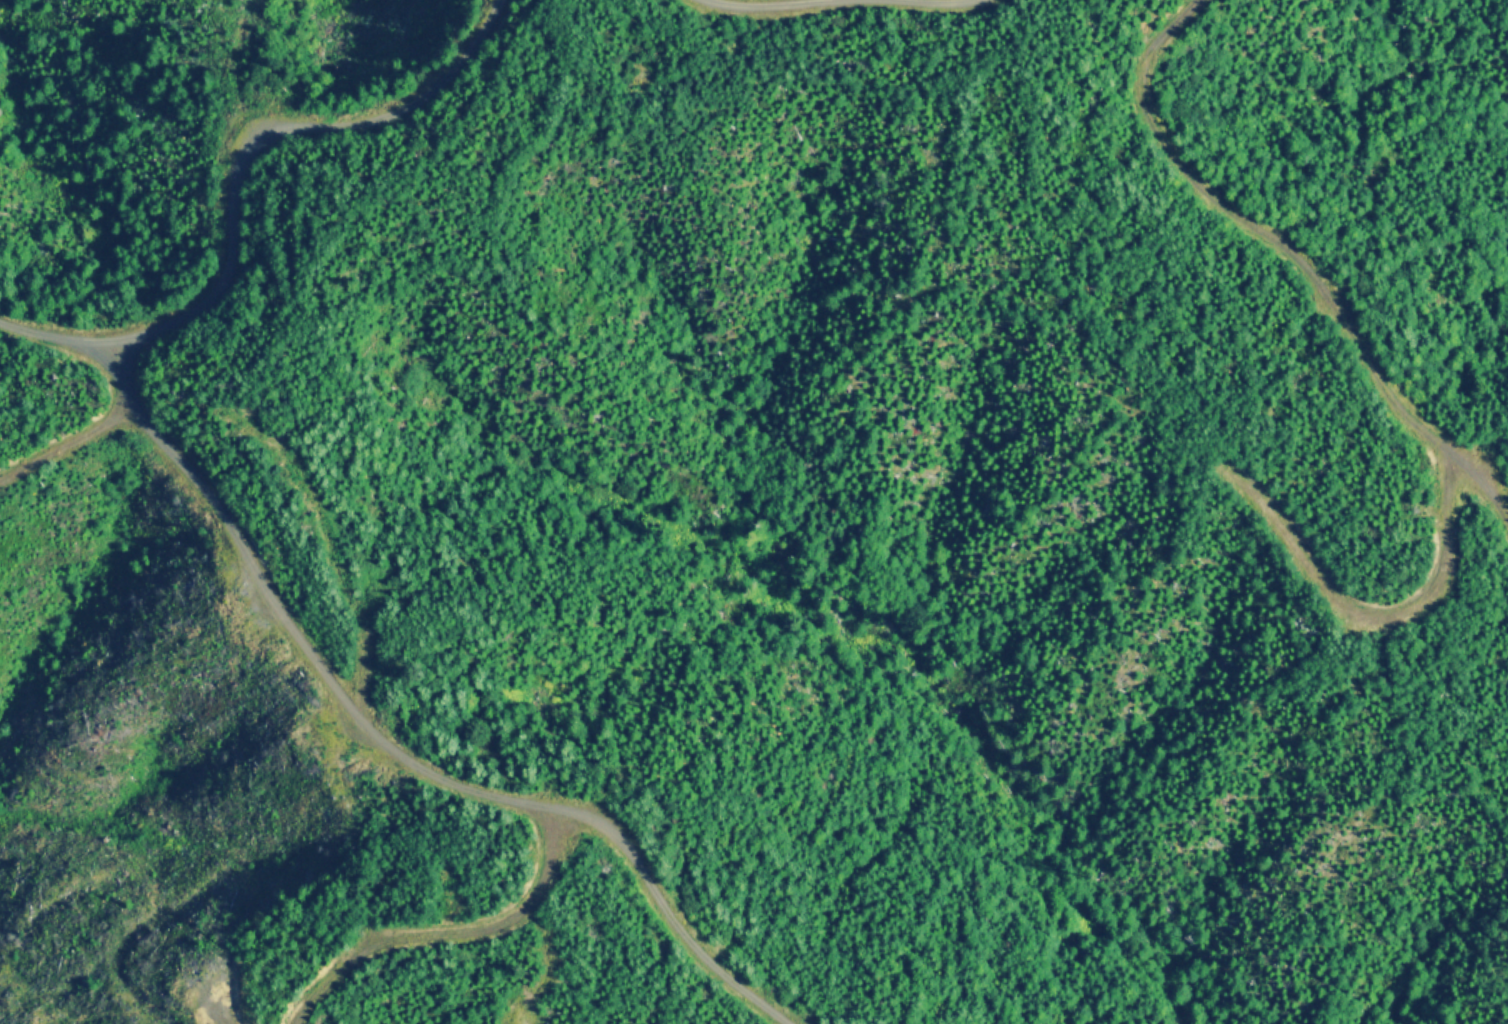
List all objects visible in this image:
road: (228, 168)
road: (1302, 280)
road: (88, 426)
road: (391, 747)

